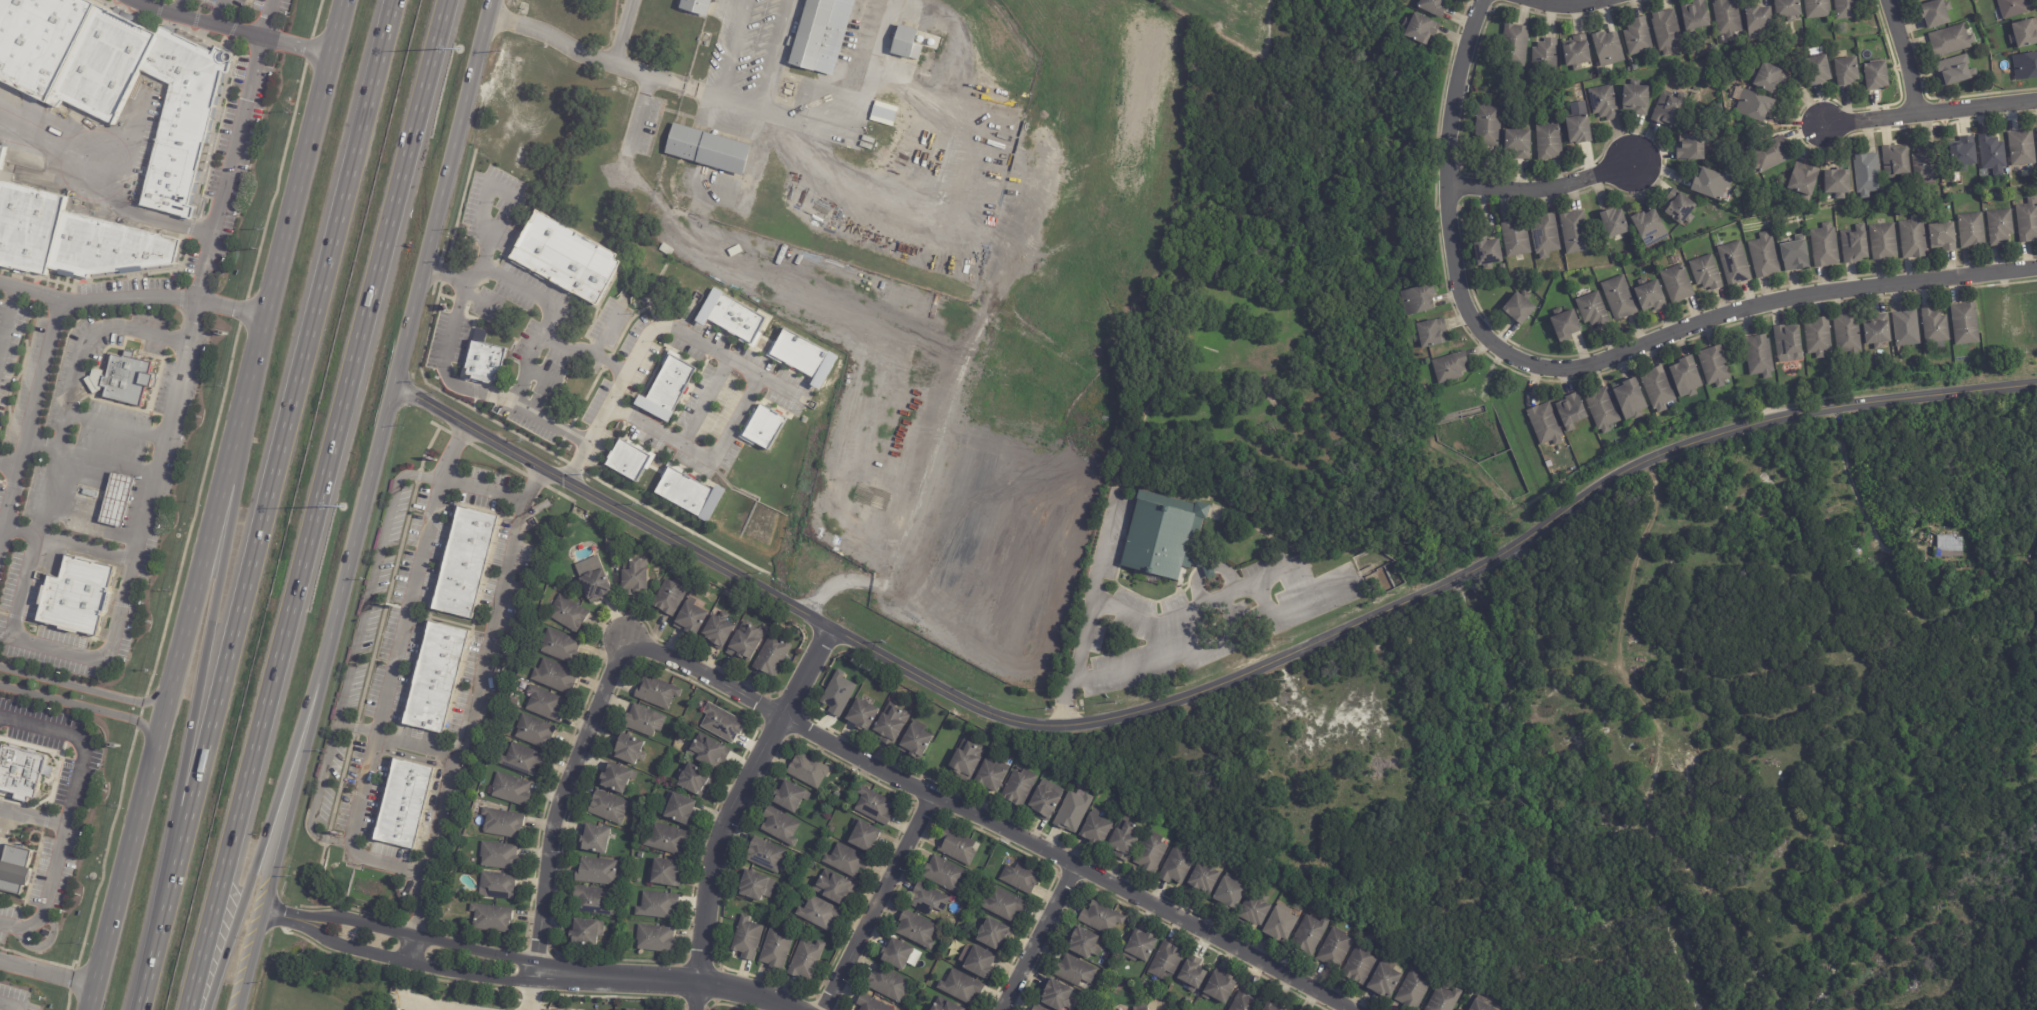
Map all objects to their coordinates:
building: (1917, 0)
building: (1920, 0)
road: (141, 3)
road: (1557, 4)
building: (694, 6)
building: (1434, 7)
building: (2013, 7)
road: (185, 9)
building: (1788, 9)
building: (1817, 9)
building: (1848, 9)
road: (224, 14)
building: (1937, 14)
building: (1696, 15)
building: (1728, 18)
road: (266, 20)
building: (1760, 22)
building: (1420, 29)
road: (230, 31)
building: (1667, 31)
road: (620, 32)
building: (810, 34)
building: (2026, 35)
building: (1638, 37)
building: (1951, 41)
building: (905, 44)
building: (1515, 45)
road: (731, 49)
building: (1608, 49)
building: (1578, 53)
road: (772, 55)
building: (1546, 57)
road: (1906, 58)
building: (2025, 66)
road: (871, 68)
building: (1818, 70)
building: (1956, 70)
building: (1848, 72)
building: (1877, 76)
building: (1769, 78)
building: (120, 81)
building: (1633, 96)
building: (1600, 100)
building: (1754, 106)
building: (1665, 107)
road: (747, 108)
building: (883, 113)
road: (1930, 115)
building: (1484, 123)
building: (1576, 128)
building: (2036, 131)
building: (1546, 140)
road: (23, 142)
building: (1516, 142)
building: (1688, 146)
building: (2022, 148)
building: (706, 150)
building: (1, 152)
building: (1965, 154)
building: (1768, 155)
building: (1993, 155)
building: (1896, 162)
building: (1926, 162)
building: (1867, 175)
road: (303, 176)
building: (683, 176)
building: (1804, 181)
building: (1708, 182)
building: (1838, 183)
building: (677, 190)
road: (1543, 191)
road: (95, 193)
building: (1676, 206)
building: (2028, 221)
building: (1614, 224)
building: (1646, 227)
building: (2000, 227)
building: (1572, 231)
building: (1972, 231)
building: (1541, 234)
building: (1513, 237)
building: (1944, 237)
building: (72, 238)
building: (1914, 238)
building: (1884, 242)
building: (1825, 247)
building: (1855, 247)
building: (1485, 252)
building: (1761, 255)
building: (1791, 255)
building: (566, 258)
building: (1731, 262)
building: (1702, 272)
road: (446, 276)
building: (1674, 282)
road: (30, 294)
road: (820, 294)
building: (1647, 294)
building: (1616, 297)
road: (476, 301)
building: (1418, 301)
road: (69, 302)
building: (1519, 309)
building: (1593, 311)
road: (416, 312)
road: (547, 316)
building: (731, 316)
road: (7, 318)
building: (1965, 325)
building: (1566, 326)
building: (1936, 328)
road: (451, 329)
building: (1906, 329)
road: (602, 332)
building: (1431, 334)
building: (1848, 335)
building: (1878, 335)
building: (1819, 338)
road: (700, 342)
building: (1788, 343)
road: (549, 345)
road: (560, 352)
building: (804, 357)
building: (1759, 357)
building: (484, 363)
road: (607, 363)
road: (1587, 364)
building: (1715, 367)
building: (1450, 368)
building: (125, 378)
building: (1686, 378)
road: (542, 385)
building: (667, 388)
road: (614, 389)
building: (1658, 389)
building: (1631, 401)
building: (1603, 410)
building: (1572, 412)
road: (1759, 424)
road: (114, 425)
building: (1545, 425)
building: (763, 427)
road: (592, 430)
road: (683, 433)
road: (722, 439)
road: (90, 457)
building: (629, 461)
road: (482, 485)
building: (92, 493)
building: (689, 493)
road: (1856, 495)
road: (8, 499)
building: (122, 499)
road: (264, 504)
road: (314, 504)
building: (1932, 530)
building: (1164, 538)
road: (67, 543)
building: (608, 543)
building: (1950, 548)
building: (464, 561)
road: (1463, 572)
building: (631, 577)
building: (594, 582)
road: (1093, 586)
road: (1628, 592)
building: (79, 595)
road: (122, 596)
building: (669, 596)
road: (1262, 599)
road: (1195, 609)
building: (569, 614)
building: (689, 618)
building: (768, 621)
building: (717, 630)
building: (745, 642)
building: (559, 646)
road: (1193, 648)
road: (352, 651)
road: (894, 654)
building: (772, 656)
building: (436, 676)
road: (477, 676)
building: (554, 676)
road: (169, 680)
road: (197, 681)
road: (84, 690)
building: (656, 693)
building: (837, 694)
road: (382, 696)
building: (543, 704)
building: (914, 706)
road: (87, 709)
building: (862, 715)
building: (644, 720)
building: (721, 723)
building: (890, 724)
building: (534, 732)
building: (916, 742)
building: (1582, 744)
road: (412, 745)
building: (628, 750)
building: (1571, 750)
building: (707, 752)
building: (521, 759)
building: (965, 761)
building: (807, 771)
building: (22, 772)
building: (990, 775)
building: (618, 777)
building: (694, 780)
building: (1019, 787)
building: (511, 789)
building: (1103, 792)
building: (791, 796)
road: (563, 800)
building: (1044, 800)
building: (405, 804)
building: (873, 805)
road: (739, 807)
building: (608, 808)
building: (678, 809)
road: (65, 810)
building: (1072, 811)
building: (1149, 816)
road: (31, 817)
road: (267, 817)
road: (285, 817)
road: (990, 820)
building: (502, 823)
building: (780, 827)
building: (832, 830)
building: (1095, 830)
building: (863, 837)
building: (667, 839)
building: (1124, 839)
building: (594, 840)
building: (956, 847)
building: (1151, 853)
building: (764, 855)
building: (497, 856)
building: (641, 856)
building: (846, 861)
building: (811, 865)
building: (1177, 866)
building: (15, 869)
building: (596, 871)
building: (664, 873)
building: (944, 875)
building: (1020, 878)
building: (1204, 878)
building: (496, 886)
building: (756, 886)
building: (789, 887)
building: (833, 888)
building: (1229, 893)
building: (927, 899)
building: (592, 900)
building: (802, 900)
road: (875, 902)
building: (656, 905)
building: (1002, 905)
building: (1253, 911)
building: (818, 913)
building: (489, 918)
road: (289, 919)
building: (1100, 919)
building: (1280, 923)
building: (916, 930)
building: (584, 932)
road: (429, 935)
building: (993, 935)
building: (1309, 935)
building: (746, 938)
road: (1039, 938)
building: (655, 939)
building: (1085, 944)
building: (1139, 946)
road: (408, 948)
building: (1334, 949)
building: (774, 950)
building: (896, 954)
building: (805, 960)
building: (1165, 961)
building: (979, 962)
building: (1359, 965)
road: (423, 970)
building: (1074, 971)
road: (677, 972)
building: (1192, 974)
road: (45, 976)
building: (1384, 982)
building: (887, 984)
building: (1144, 985)
building: (960, 987)
building: (1219, 987)
building: (1414, 990)
road: (535, 992)
building: (1056, 996)
building: (1445, 999)
building: (1245, 1001)
building: (870, 1004)
road: (4, 1005)
road: (446, 1005)
building: (943, 1005)
building: (1480, 1006)
building: (1272, 1007)
building: (1037, 1008)
building: (553, 1009)
building: (631, 1009)
building: (1113, 1009)
building: (1141, 1009)

